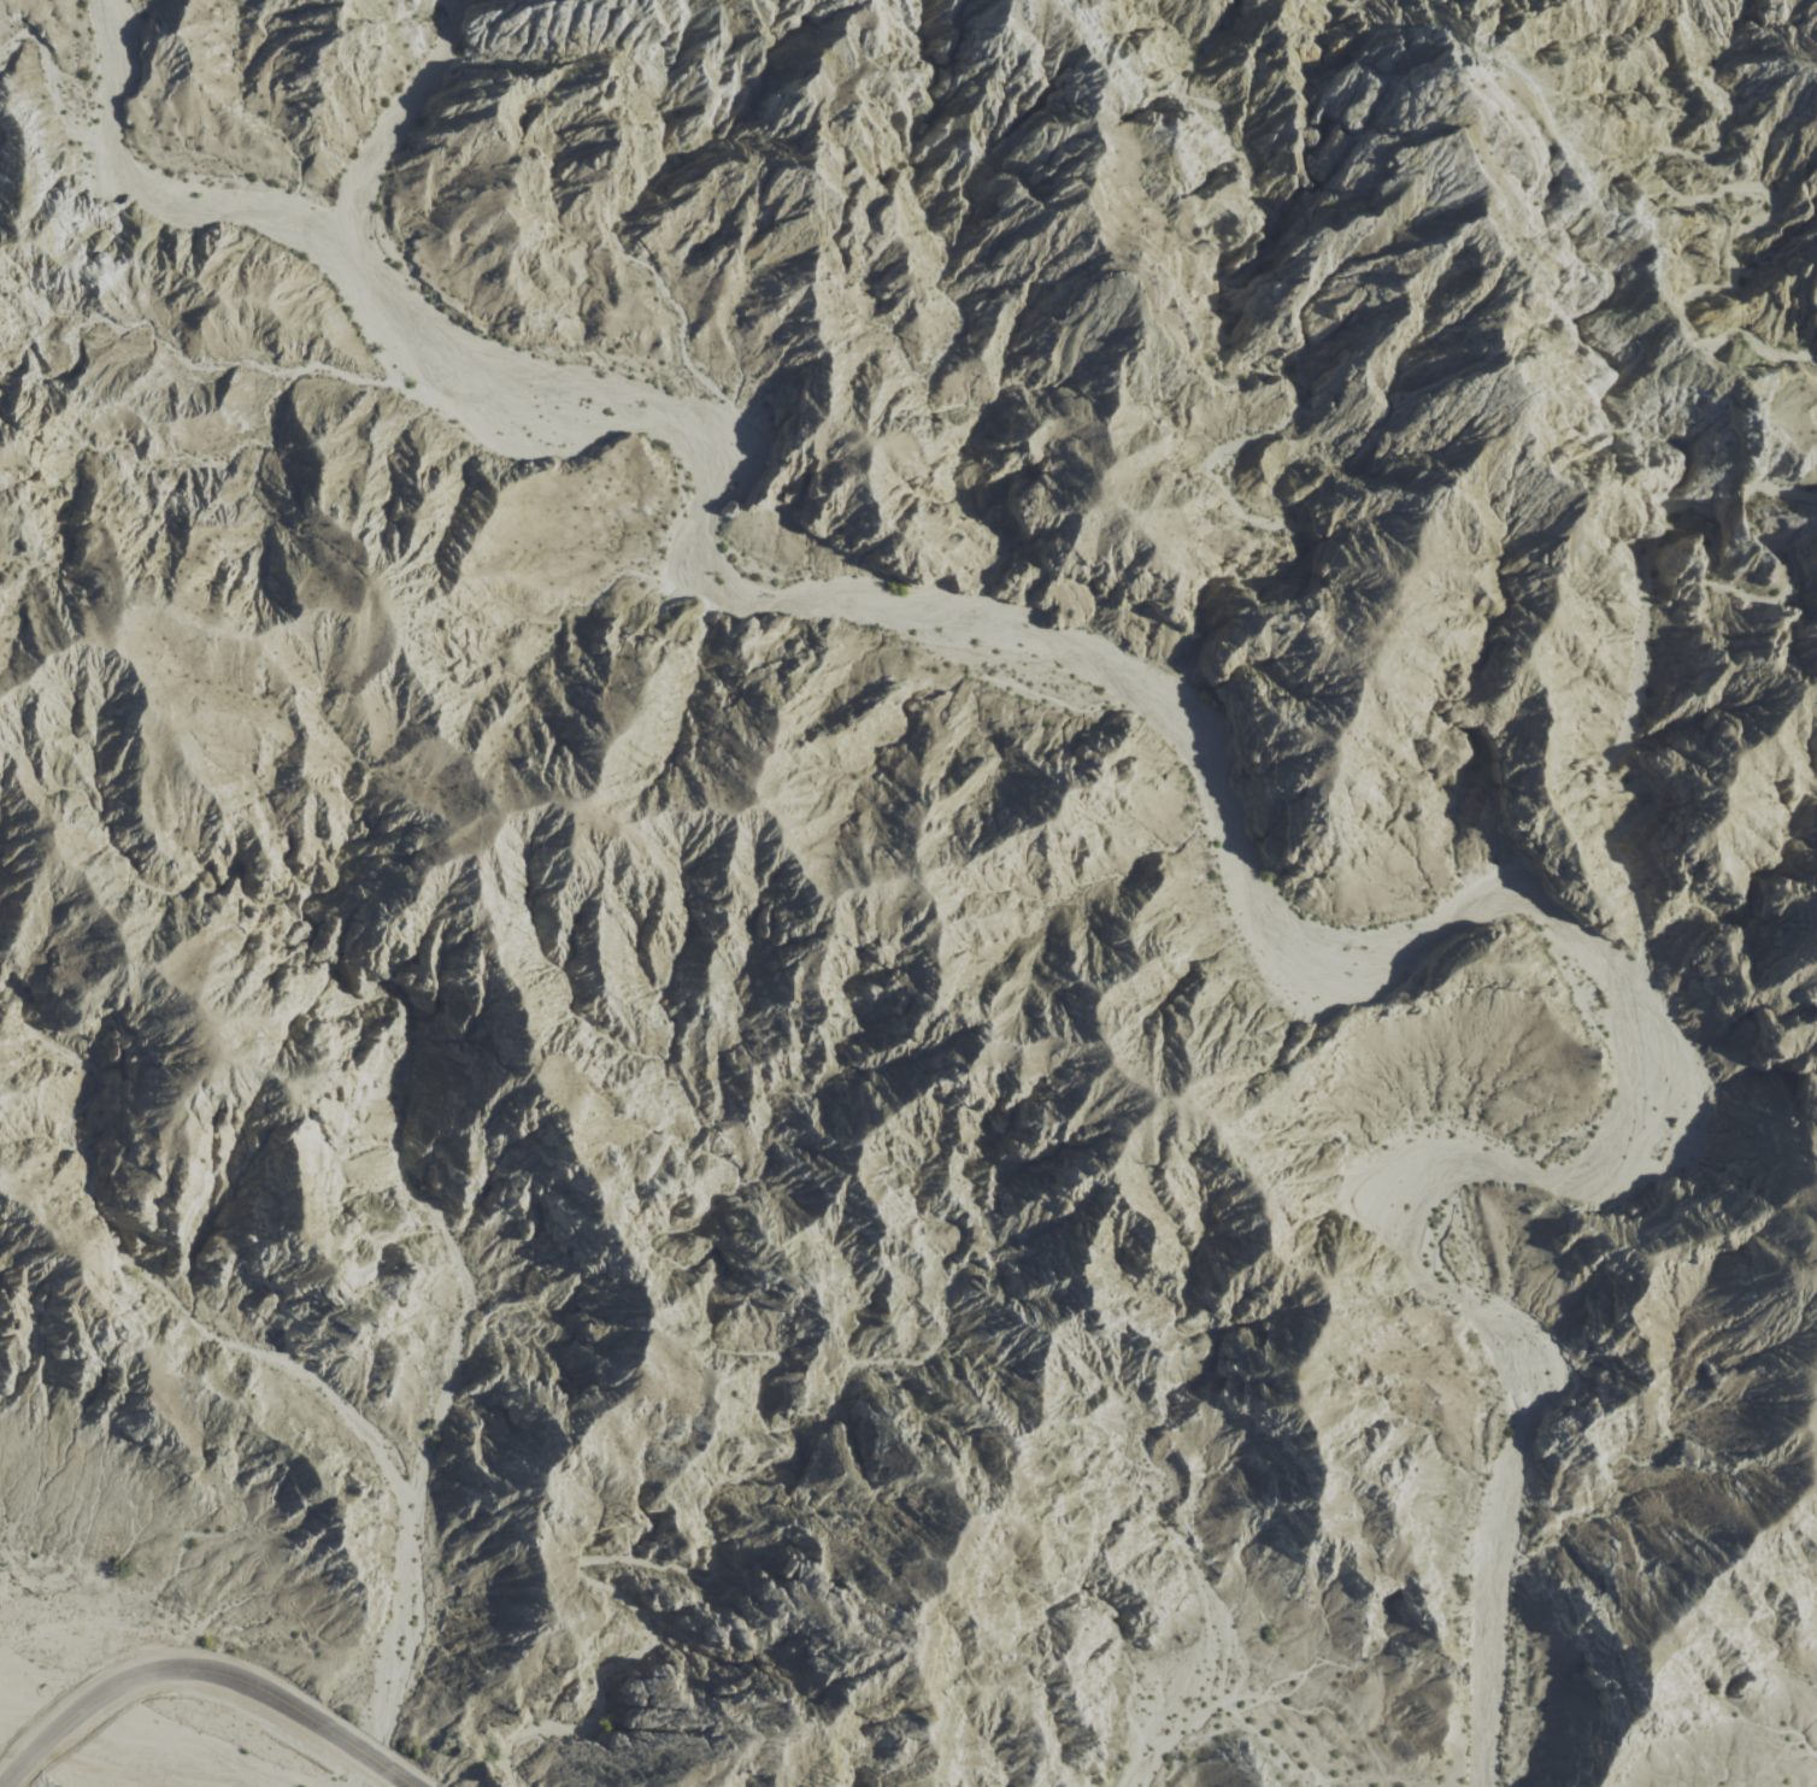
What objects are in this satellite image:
road: (204, 1667)

